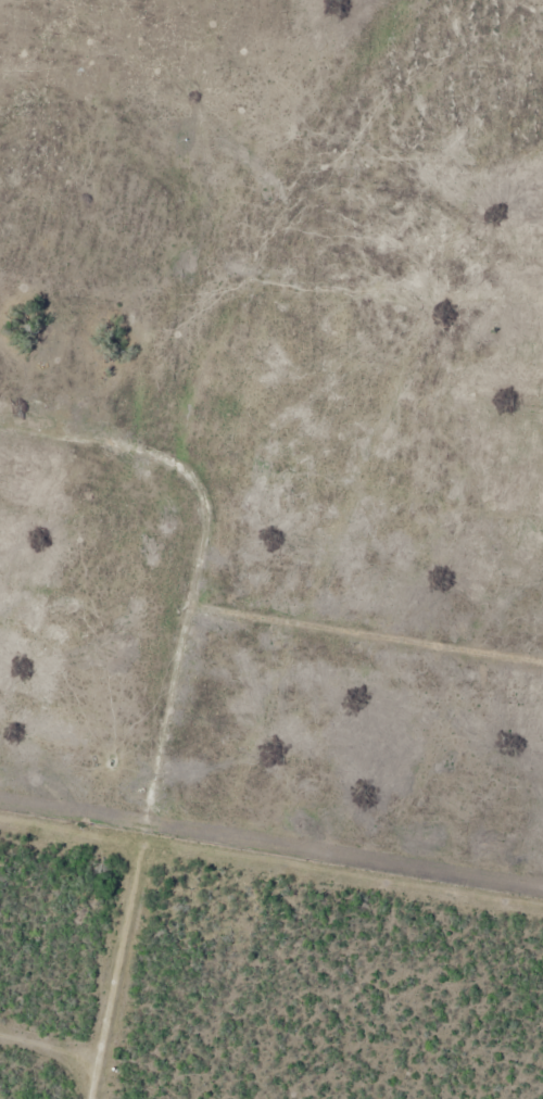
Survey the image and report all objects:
road: (193, 363)
road: (190, 760)

